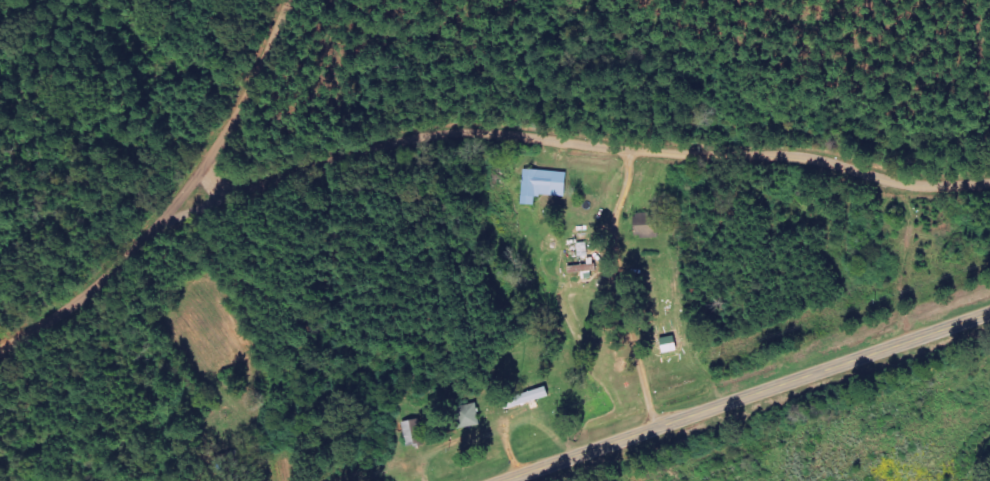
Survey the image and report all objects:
road: (239, 100)
road: (601, 147)
building: (543, 186)
building: (647, 225)
road: (108, 269)
road: (629, 289)
road: (746, 396)
building: (471, 416)
building: (414, 433)
road: (470, 439)
road: (509, 442)

